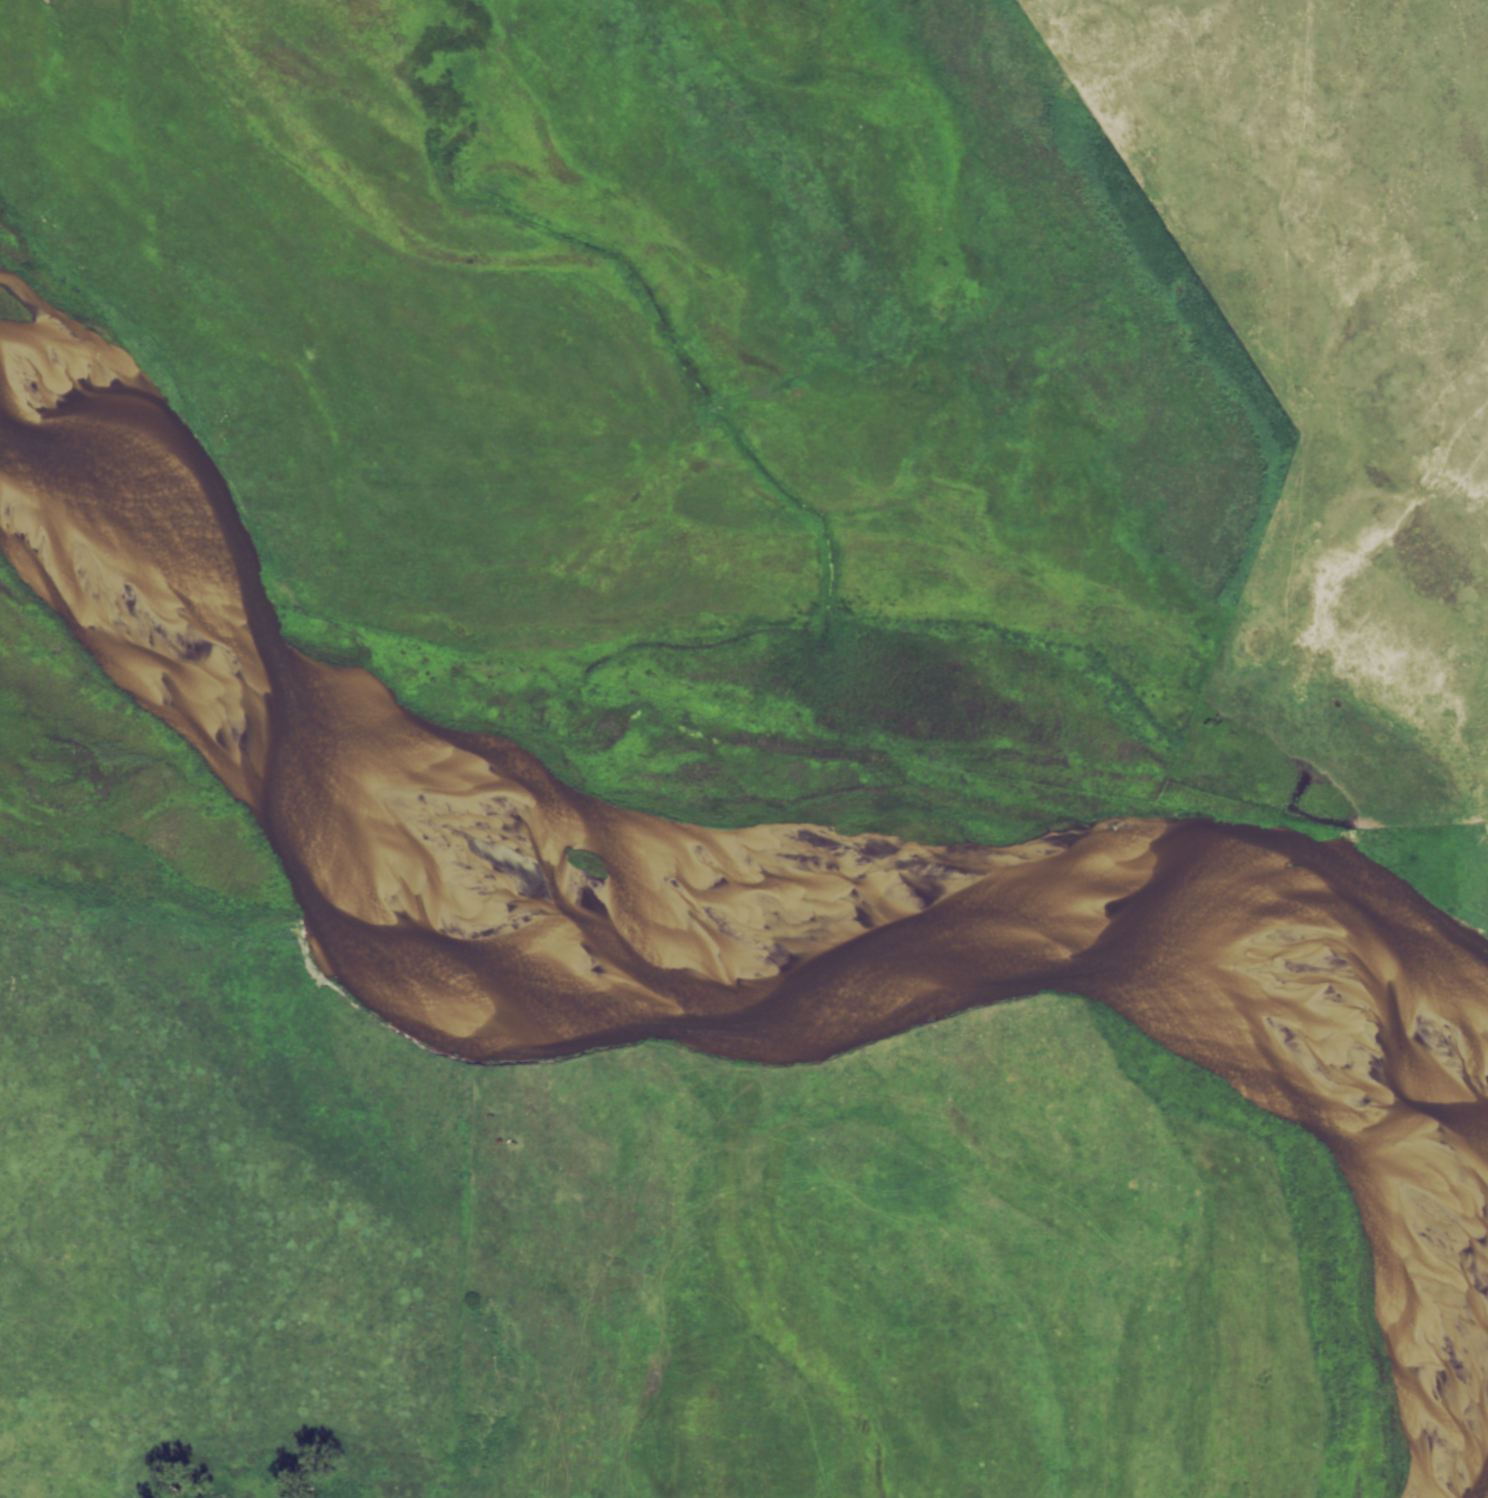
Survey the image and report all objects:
river: (723, 910)
river: (1486, 1495)

